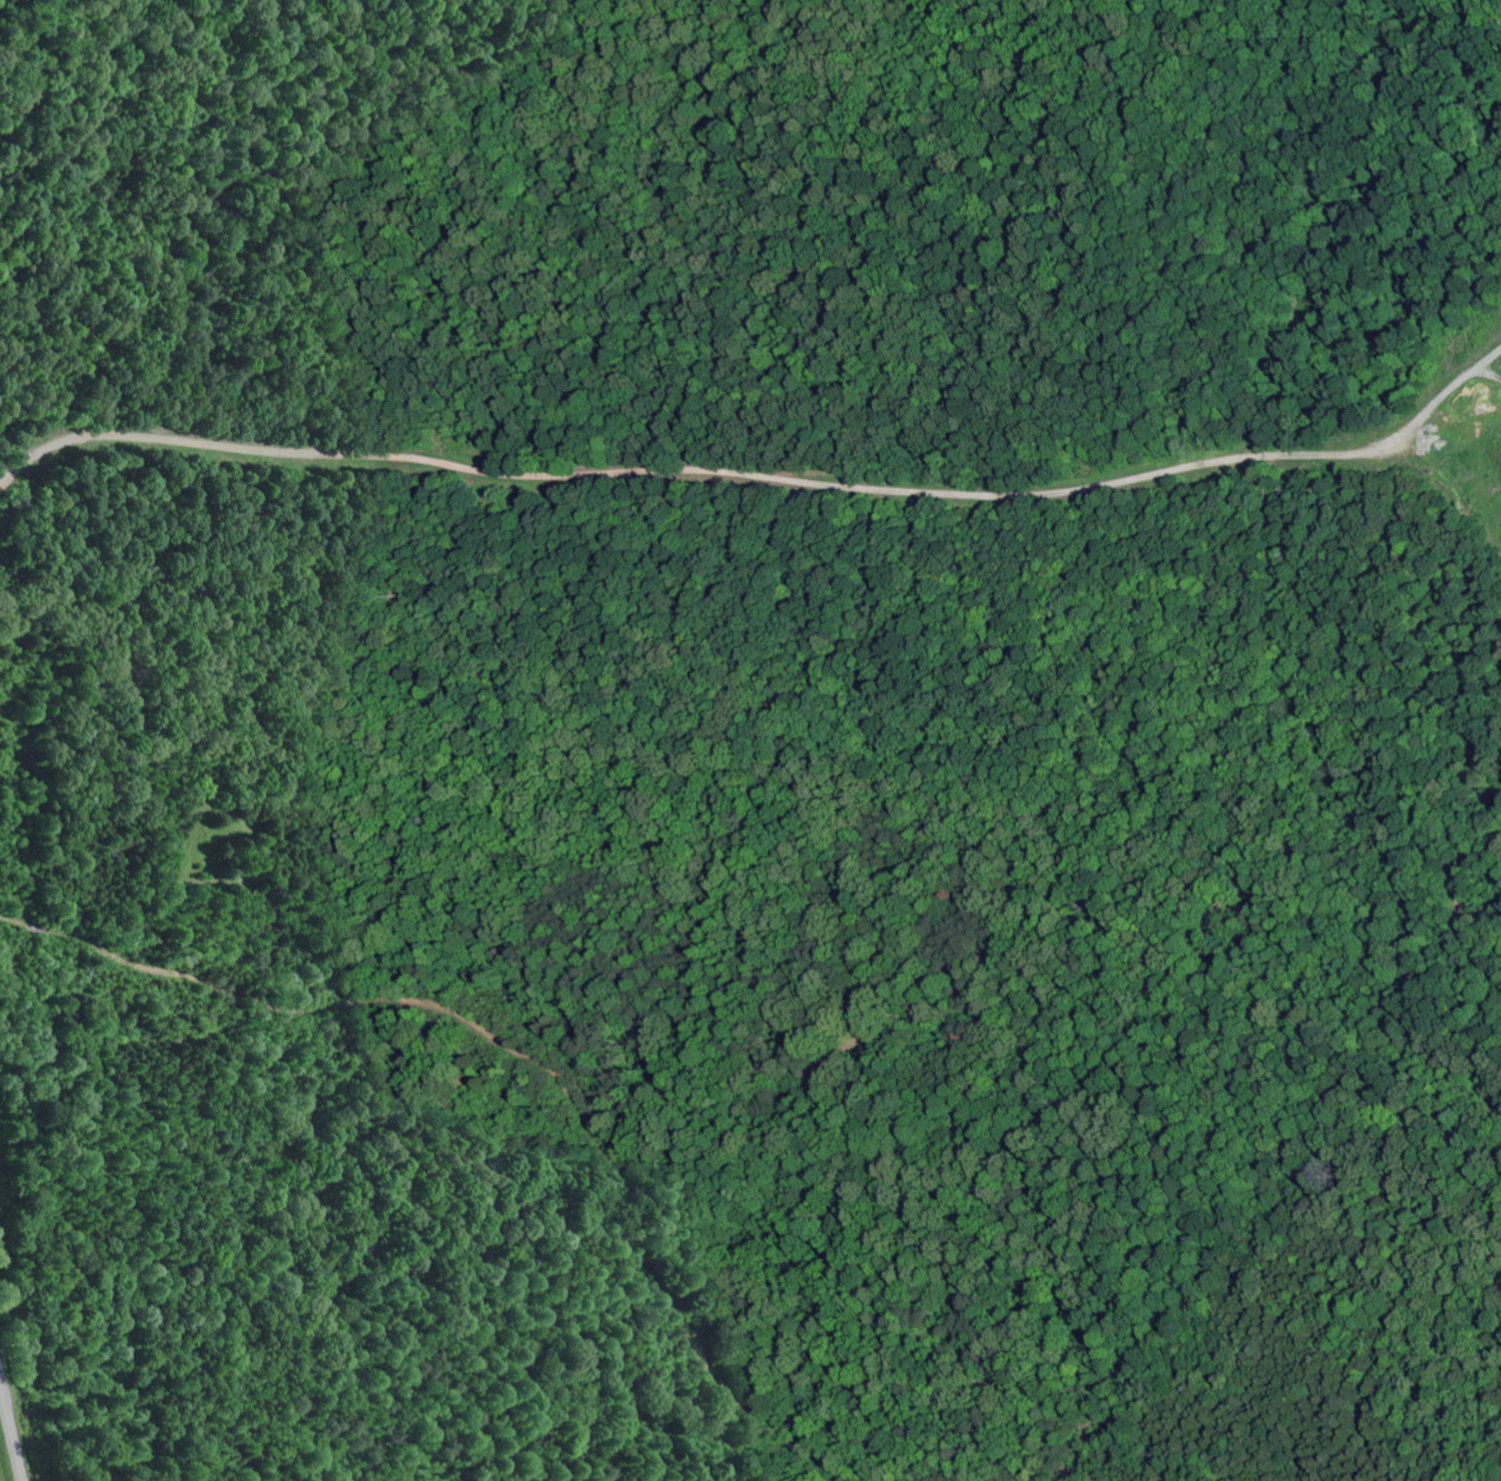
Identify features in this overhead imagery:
road: (753, 479)
road: (12, 1423)

